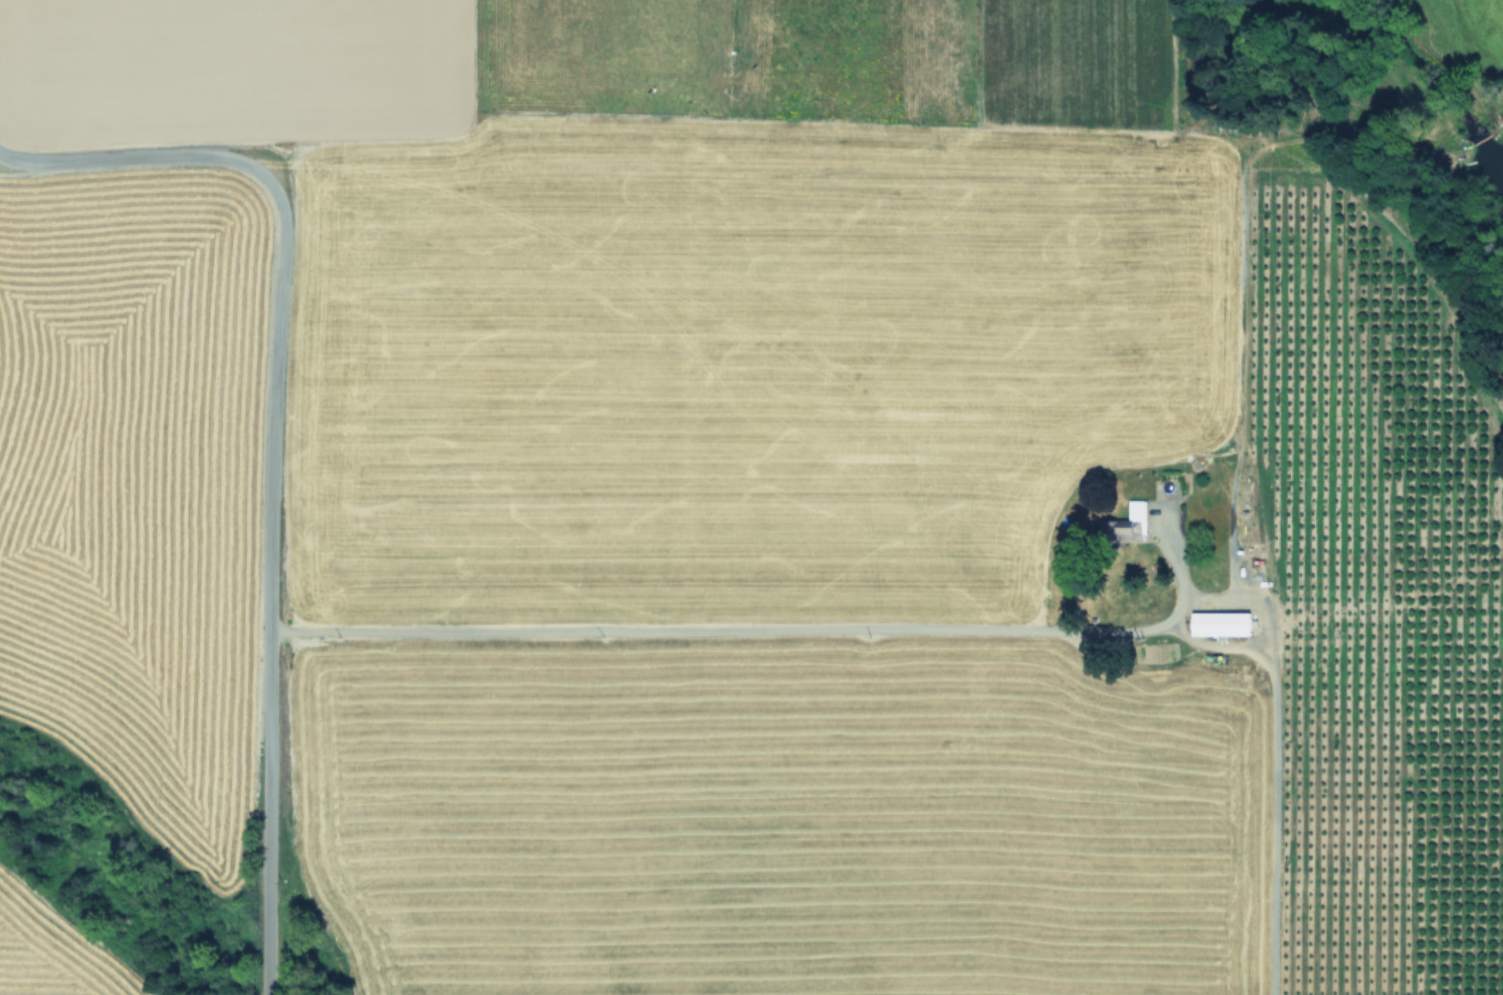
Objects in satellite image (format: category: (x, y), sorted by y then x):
crop: (1486, 18)
road: (130, 157)
crop: (788, 497)
building: (1139, 512)
road: (267, 580)
crop: (124, 587)
building: (1223, 622)
road: (842, 626)

